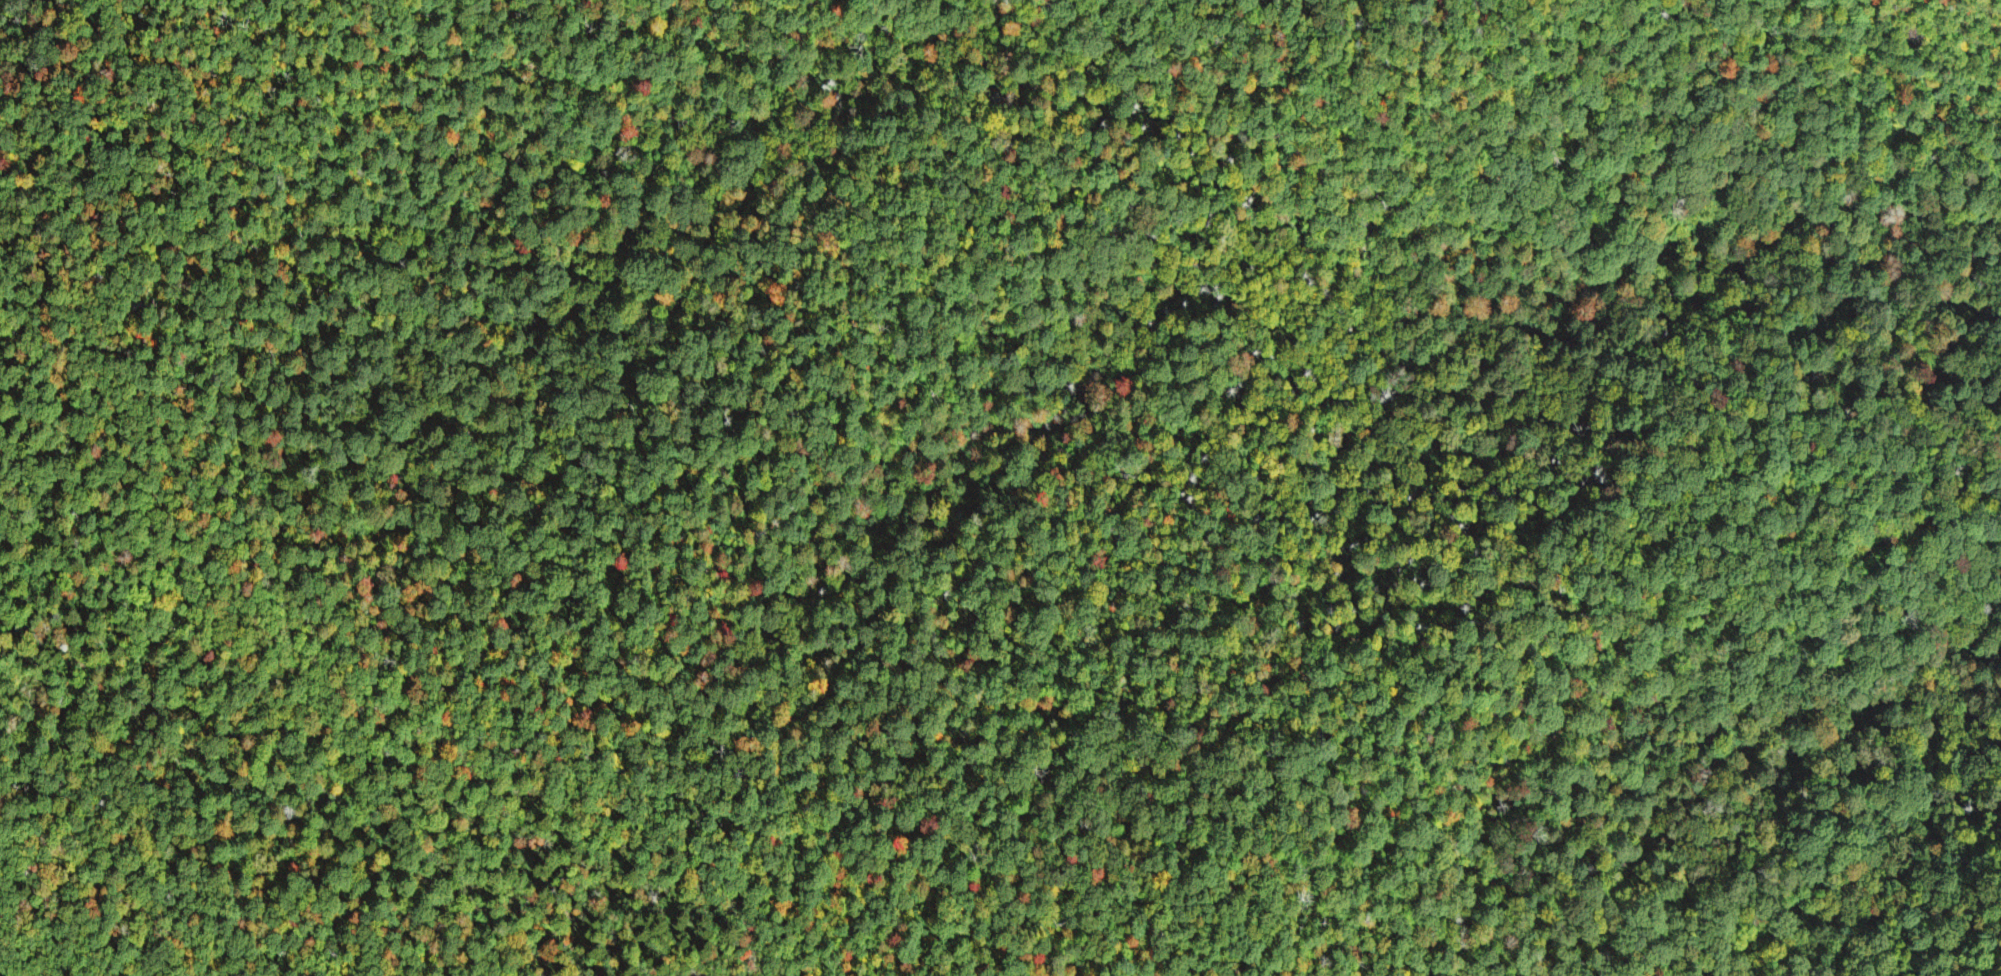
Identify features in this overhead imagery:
road: (95, 951)

